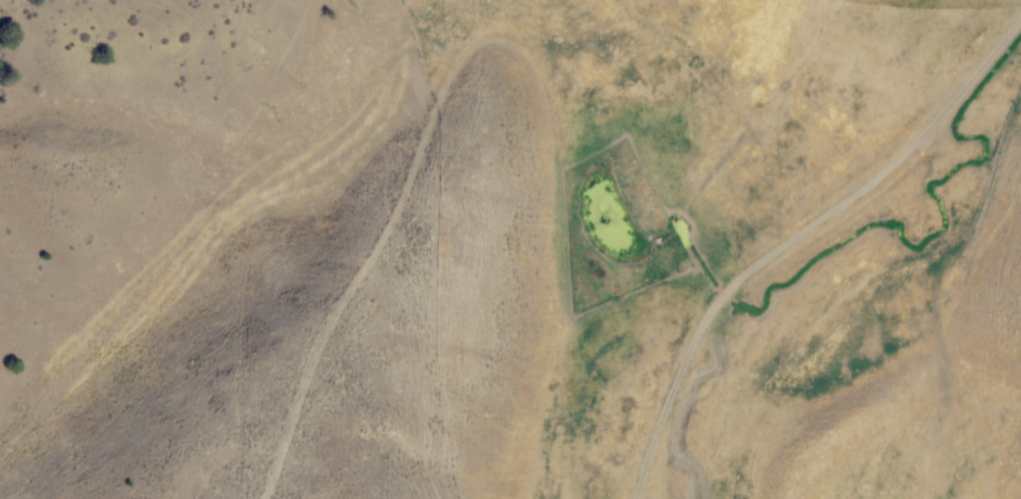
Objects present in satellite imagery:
road: (797, 238)

